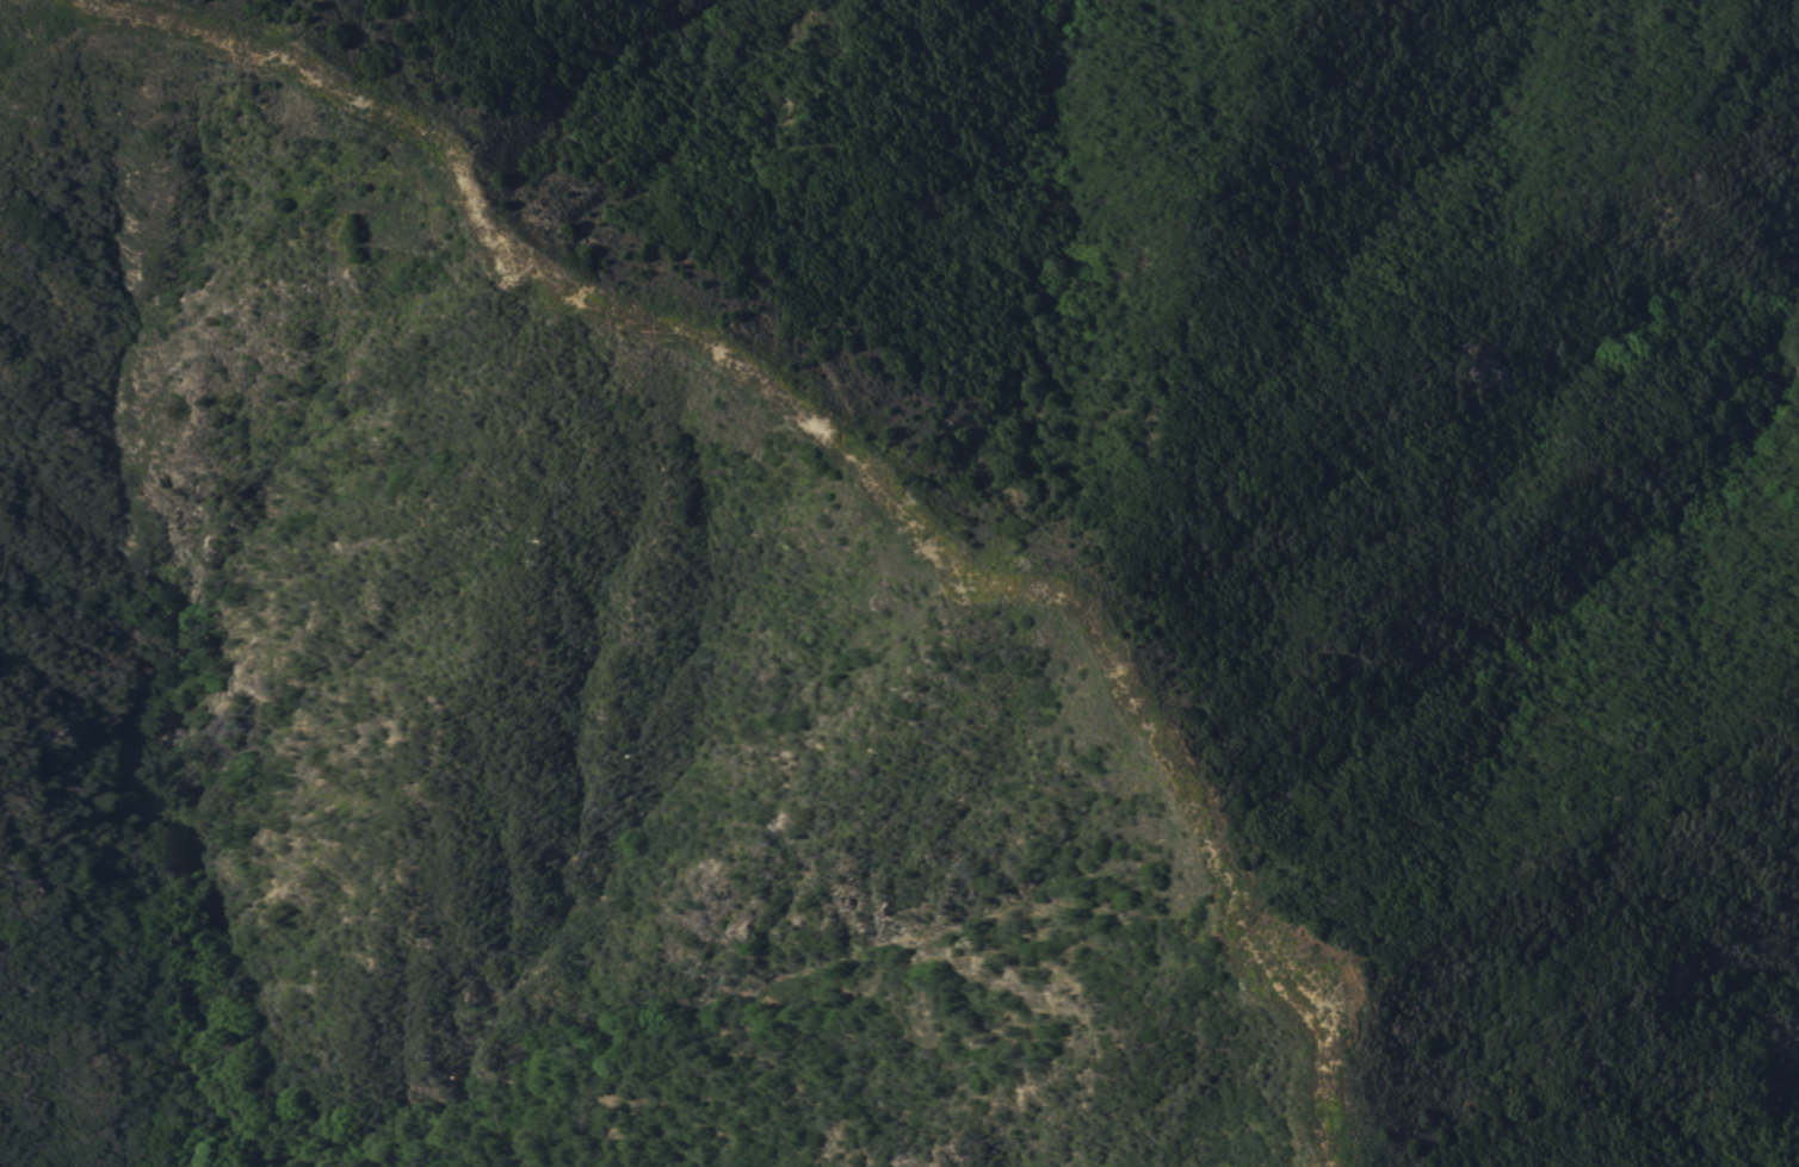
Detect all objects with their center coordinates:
road: (829, 440)

